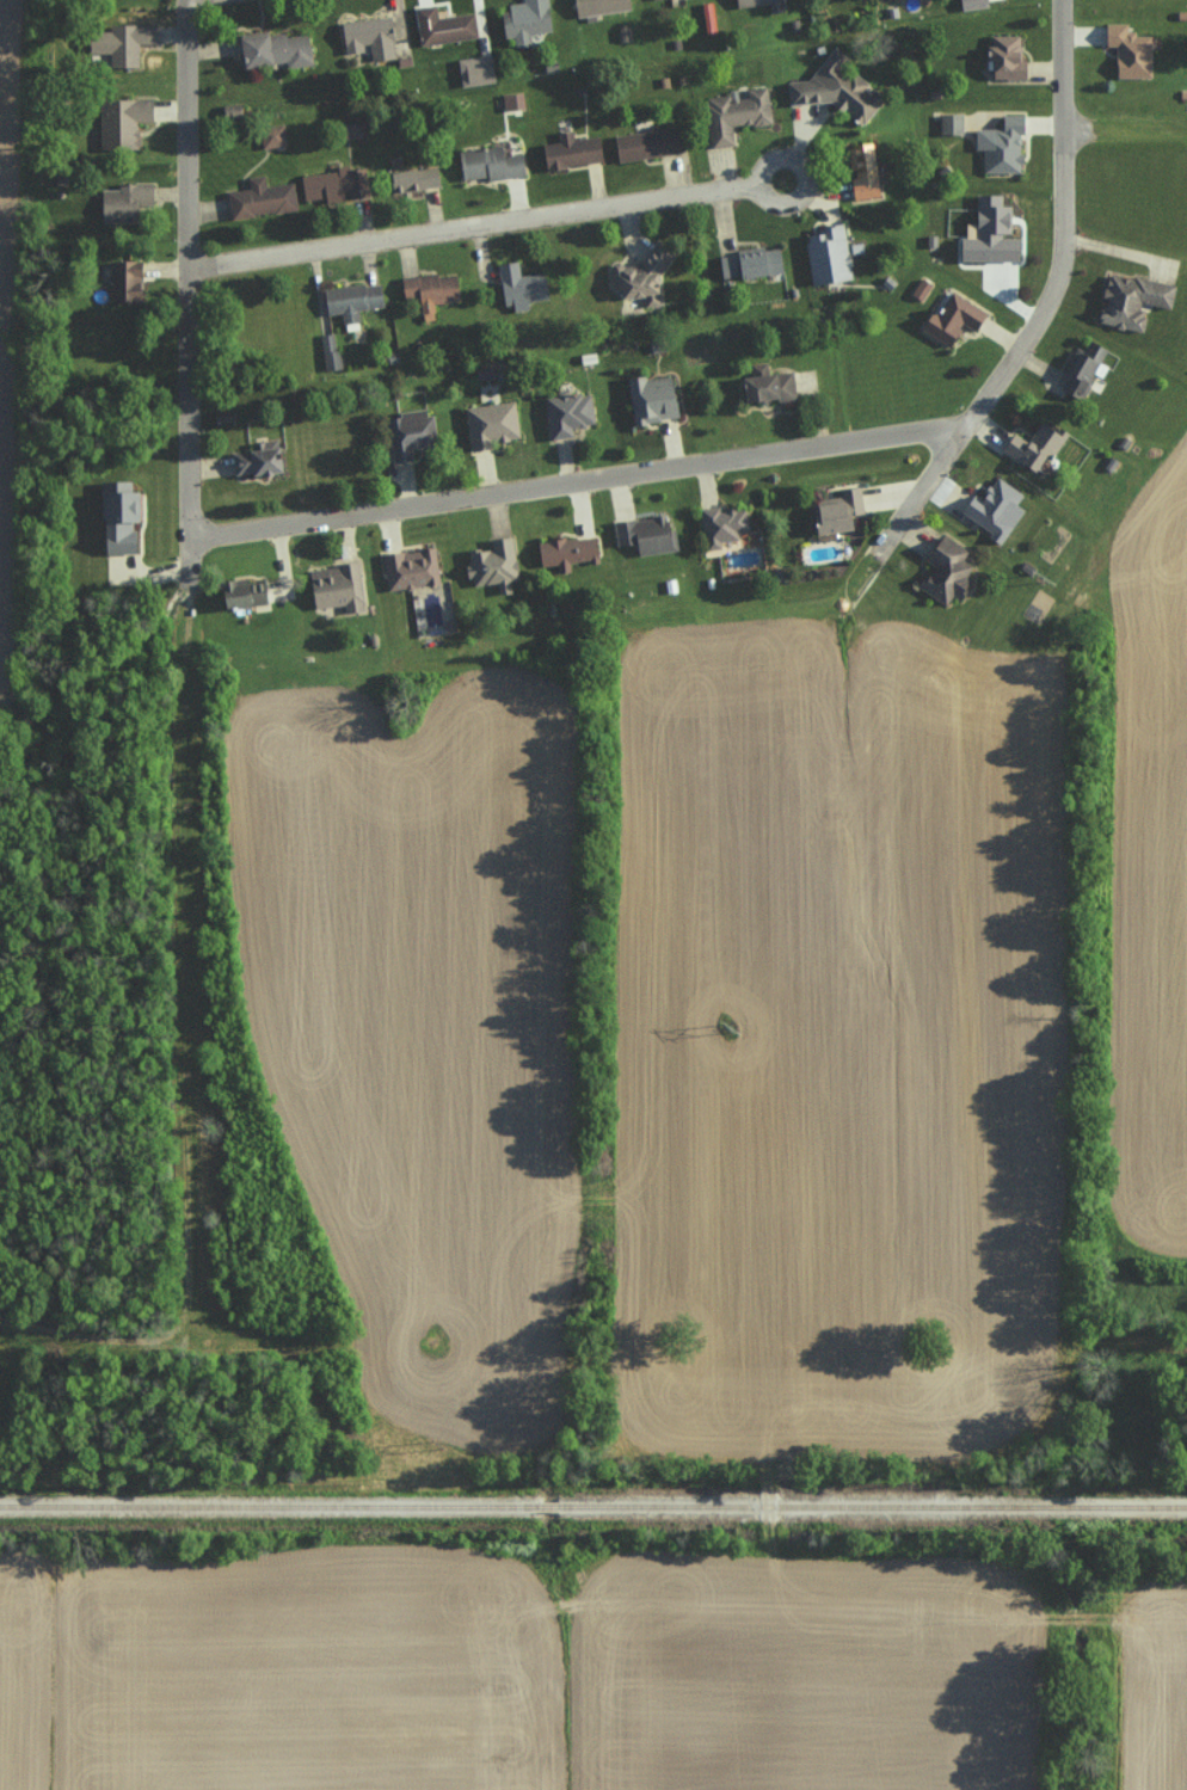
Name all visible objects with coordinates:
building: (652, 0)
building: (759, 4)
building: (970, 4)
building: (598, 6)
building: (523, 20)
building: (441, 26)
building: (367, 37)
building: (118, 43)
building: (271, 50)
building: (1127, 51)
building: (1003, 59)
building: (473, 70)
building: (832, 88)
building: (511, 100)
building: (229, 111)
building: (732, 113)
building: (119, 122)
building: (350, 124)
building: (949, 124)
building: (270, 136)
building: (644, 144)
building: (1000, 146)
building: (570, 150)
building: (487, 164)
building: (862, 174)
building: (412, 179)
building: (326, 185)
building: (259, 198)
building: (122, 201)
road: (543, 217)
road: (1063, 230)
building: (988, 234)
building: (826, 254)
building: (748, 263)
road: (184, 266)
building: (638, 276)
building: (123, 282)
building: (517, 287)
building: (920, 289)
building: (428, 290)
building: (1130, 299)
building: (350, 302)
building: (951, 318)
building: (328, 351)
building: (1080, 369)
building: (765, 383)
building: (650, 398)
building: (566, 413)
building: (490, 423)
building: (407, 432)
building: (1031, 444)
building: (253, 459)
road: (576, 484)
road: (927, 487)
building: (994, 506)
building: (835, 510)
building: (115, 516)
building: (720, 524)
building: (644, 534)
building: (565, 550)
building: (492, 564)
building: (408, 568)
building: (943, 568)
building: (334, 586)
building: (238, 591)
railway: (592, 1507)

